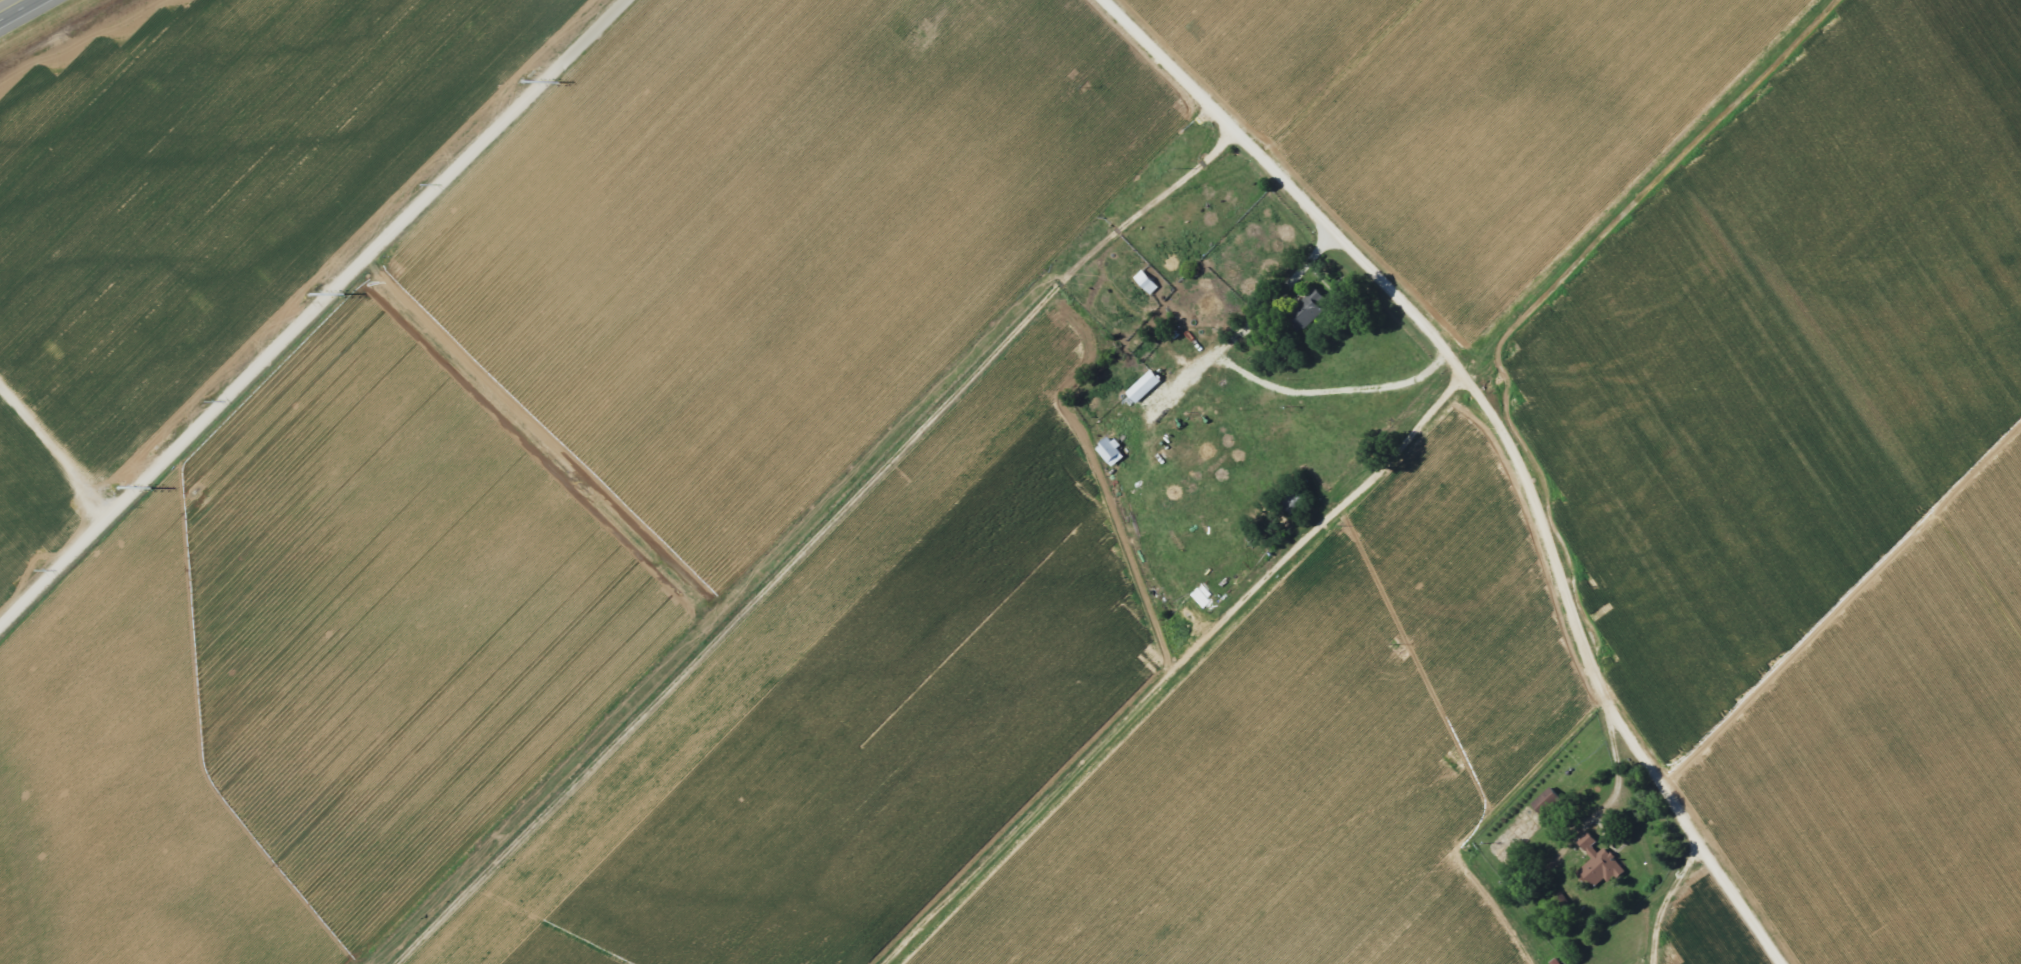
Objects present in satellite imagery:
road: (5, 3)
road: (311, 312)
building: (1143, 386)
road: (1507, 439)
building: (1545, 801)
building: (1600, 868)

